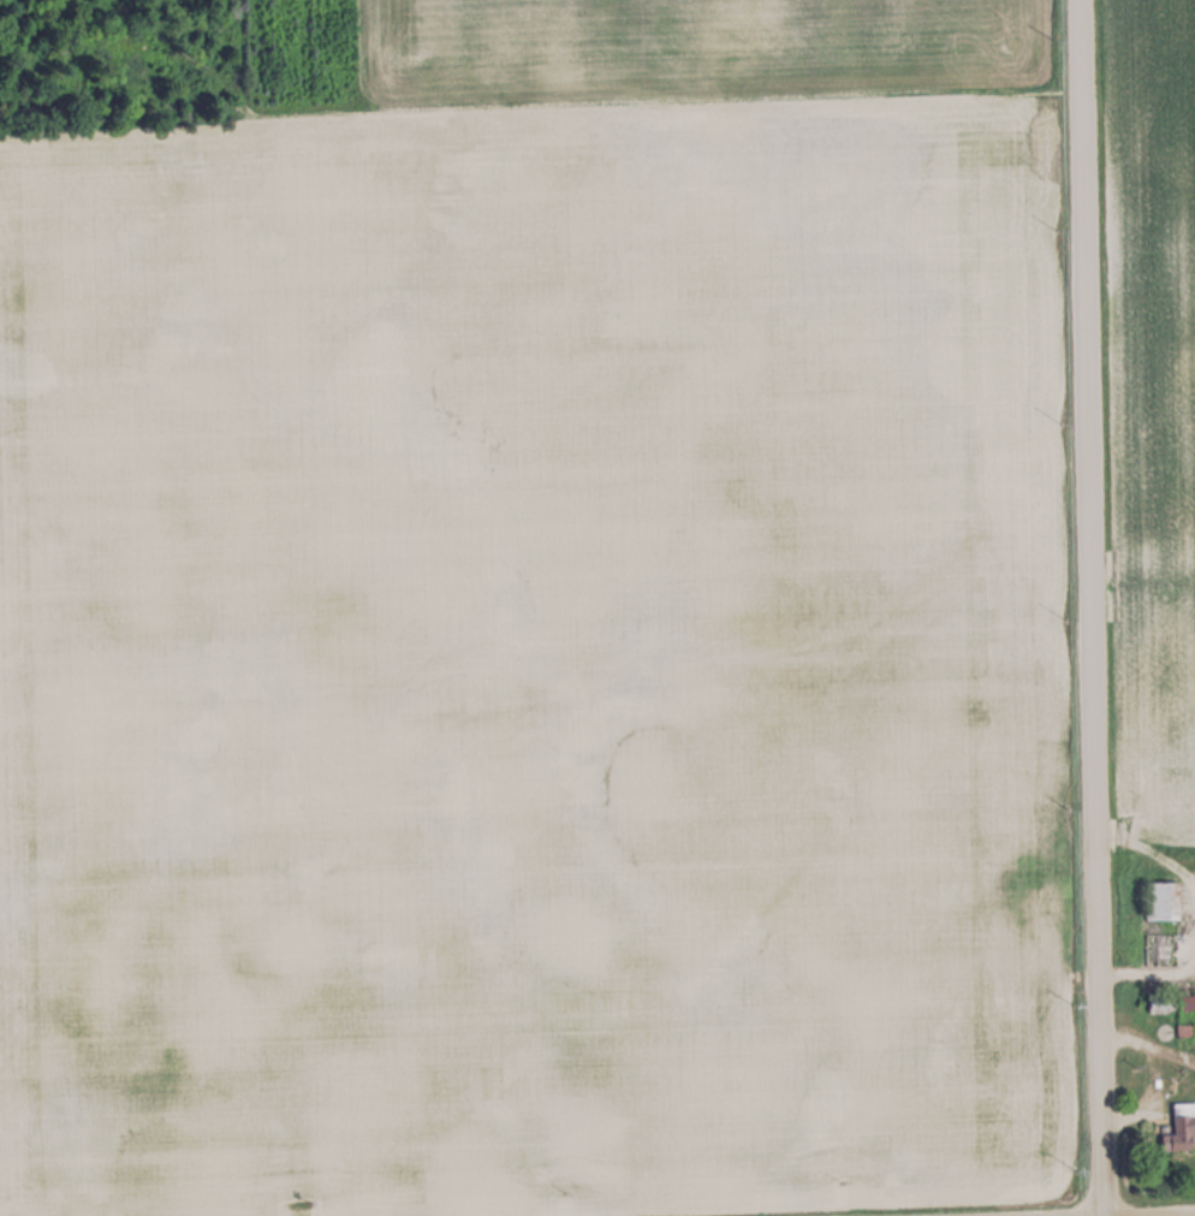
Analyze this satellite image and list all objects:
road: (1086, 607)
building: (1161, 900)
building: (1184, 1002)
building: (1179, 1127)

